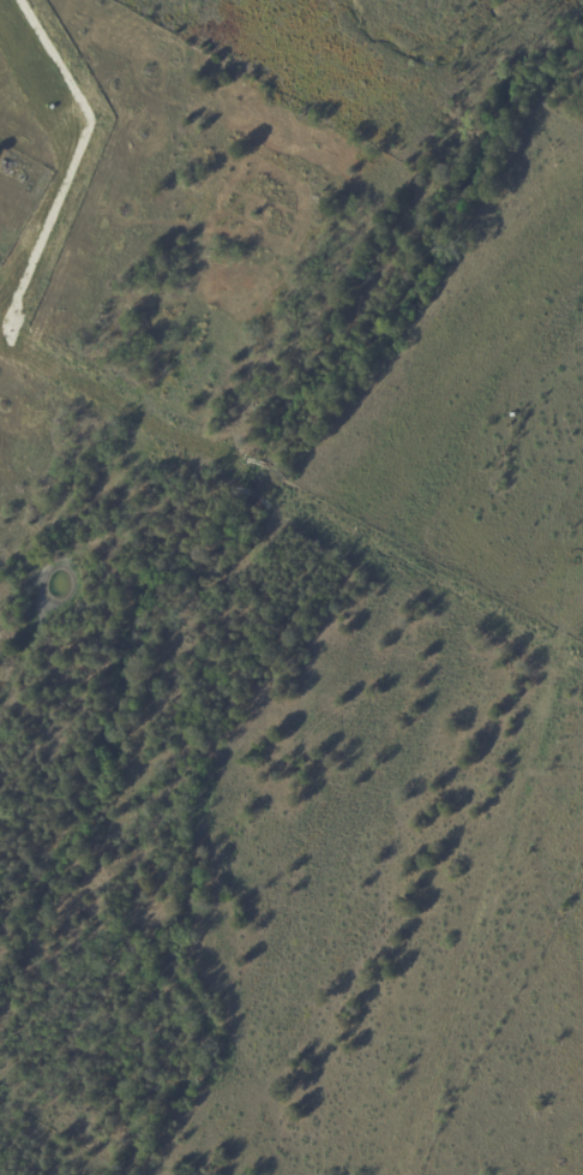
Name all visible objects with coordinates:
road: (72, 167)

